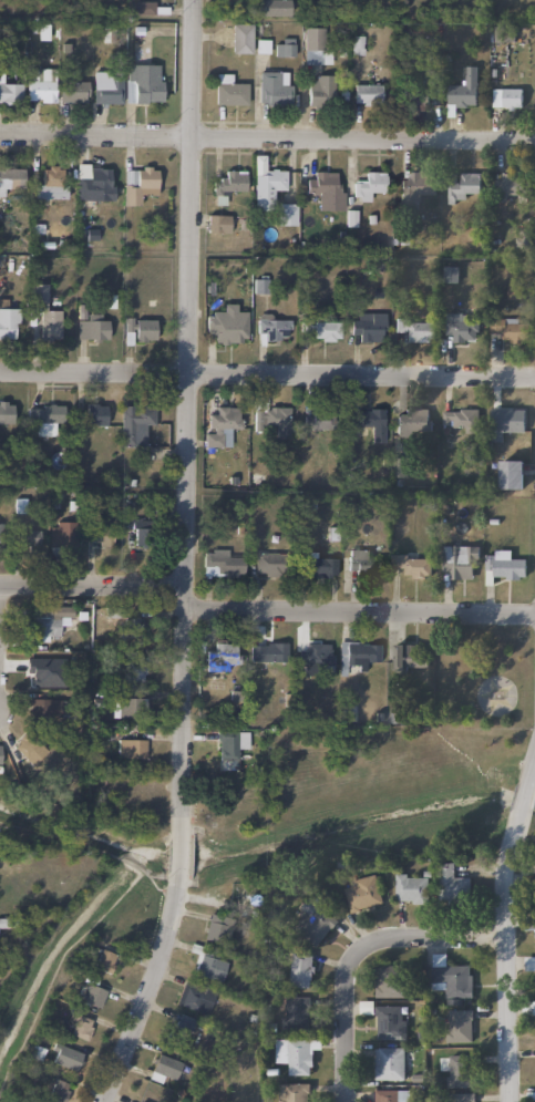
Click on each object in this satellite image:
building: (141, 8)
building: (271, 8)
building: (241, 39)
building: (312, 45)
building: (284, 47)
building: (143, 83)
building: (40, 85)
building: (106, 86)
building: (274, 87)
building: (228, 90)
building: (321, 90)
building: (73, 91)
building: (463, 91)
building: (10, 92)
building: (366, 93)
building: (503, 97)
road: (267, 137)
building: (11, 178)
building: (269, 178)
building: (93, 182)
building: (51, 183)
building: (138, 184)
building: (228, 185)
building: (506, 185)
building: (369, 186)
building: (414, 187)
building: (463, 187)
building: (326, 190)
building: (217, 223)
building: (450, 275)
building: (39, 292)
building: (8, 322)
building: (49, 325)
building: (225, 325)
building: (456, 327)
building: (91, 328)
building: (271, 328)
building: (144, 330)
building: (367, 330)
building: (415, 330)
building: (512, 330)
building: (325, 331)
road: (267, 372)
building: (6, 413)
building: (95, 414)
building: (43, 418)
road: (186, 418)
building: (270, 418)
building: (459, 418)
building: (510, 419)
building: (317, 420)
building: (368, 421)
building: (412, 421)
building: (133, 423)
building: (222, 425)
building: (399, 467)
building: (511, 474)
building: (142, 532)
building: (62, 534)
building: (1, 536)
building: (103, 536)
building: (28, 538)
building: (360, 562)
building: (454, 563)
building: (222, 564)
building: (268, 564)
building: (411, 565)
building: (316, 566)
building: (505, 568)
road: (92, 586)
road: (359, 612)
building: (45, 622)
building: (132, 629)
building: (267, 651)
building: (223, 653)
building: (410, 656)
building: (356, 657)
building: (315, 658)
building: (42, 667)
building: (130, 671)
park: (493, 696)
building: (45, 708)
building: (130, 708)
building: (353, 712)
building: (228, 744)
building: (28, 746)
building: (131, 749)
building: (0, 756)
road: (531, 758)
road: (521, 792)
road: (93, 849)
road: (179, 856)
building: (451, 882)
building: (411, 888)
building: (361, 893)
park: (126, 905)
building: (311, 920)
building: (216, 928)
road: (358, 952)
road: (505, 954)
building: (103, 961)
building: (208, 962)
building: (529, 964)
building: (299, 971)
road: (53, 974)
building: (449, 977)
building: (388, 981)
road: (151, 992)
building: (94, 995)
building: (195, 997)
building: (295, 1012)
building: (389, 1022)
building: (183, 1023)
building: (459, 1026)
building: (81, 1027)
building: (64, 1055)
building: (294, 1055)
building: (388, 1063)
building: (163, 1068)
building: (456, 1071)
building: (58, 1091)
building: (291, 1093)
building: (390, 1095)
building: (534, 1095)
building: (461, 1098)

